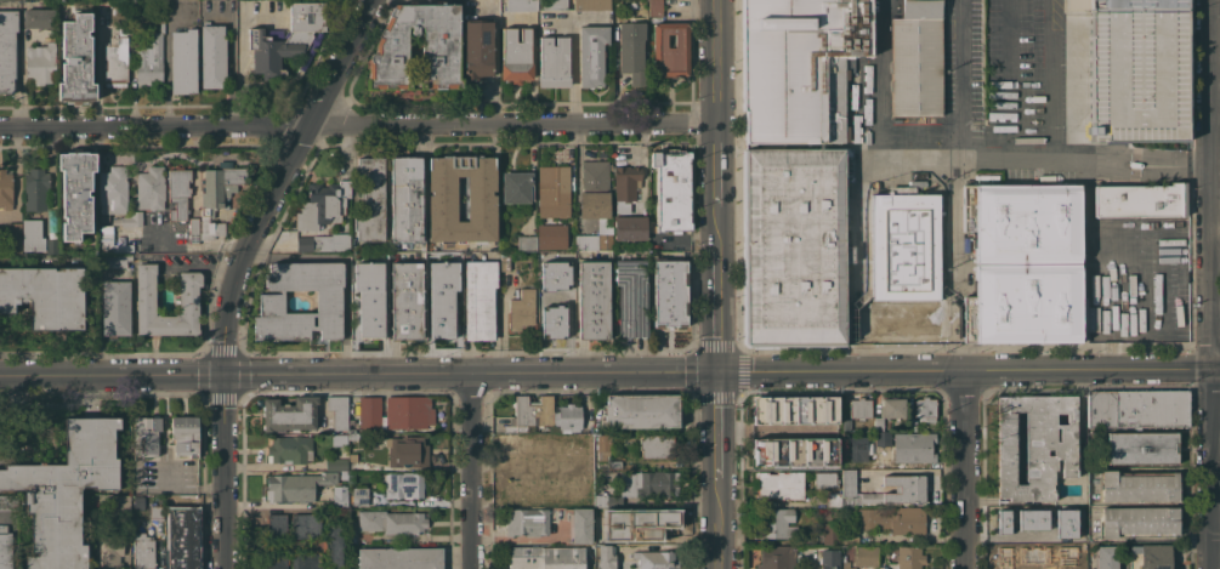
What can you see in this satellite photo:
building: (550, 4)
building: (590, 4)
building: (521, 5)
parking lot: (1125, 5)
building: (656, 7)
building: (919, 8)
building: (102, 11)
building: (38, 18)
building: (855, 28)
building: (286, 39)
building: (439, 47)
building: (6, 49)
building: (478, 49)
building: (670, 50)
building: (634, 53)
building: (212, 55)
building: (515, 55)
building: (591, 55)
building: (115, 58)
building: (149, 59)
building: (75, 61)
building: (183, 61)
building: (554, 61)
building: (40, 63)
road: (708, 63)
road: (166, 64)
building: (915, 66)
building: (787, 68)
building: (1135, 69)
parking garage: (1135, 69)
parking lot: (1135, 74)
road: (881, 80)
road: (961, 80)
road: (1004, 80)
road: (1045, 80)
building: (835, 97)
road: (353, 127)
road: (1106, 155)
road: (1170, 157)
road: (971, 161)
building: (1134, 164)
road: (709, 167)
road: (1111, 170)
road: (1176, 173)
building: (625, 182)
building: (516, 187)
building: (6, 188)
building: (149, 188)
building: (35, 189)
building: (671, 189)
building: (112, 190)
building: (594, 190)
building: (178, 192)
building: (75, 193)
building: (554, 193)
building: (216, 197)
building: (461, 198)
building: (370, 199)
building: (1139, 199)
building: (405, 200)
building: (322, 205)
road: (1085, 206)
building: (129, 220)
building: (1022, 222)
building: (630, 227)
road: (710, 229)
building: (193, 231)
building: (12, 235)
building: (32, 235)
building: (551, 237)
building: (603, 240)
building: (323, 243)
building: (526, 243)
building: (794, 244)
building: (51, 245)
building: (110, 249)
road: (857, 251)
road: (948, 251)
building: (555, 260)
building: (504, 261)
building: (903, 261)
building: (354, 263)
road: (204, 268)
road: (245, 271)
road: (1214, 284)
building: (669, 294)
building: (45, 295)
building: (631, 297)
building: (478, 298)
building: (592, 298)
building: (144, 300)
building: (405, 300)
building: (271, 302)
building: (1027, 305)
building: (115, 307)
building: (371, 307)
building: (521, 311)
road: (711, 311)
building: (554, 313)
building: (447, 315)
road: (948, 355)
road: (857, 357)
traffic signals: (713, 371)
road: (965, 371)
road: (356, 374)
traffic signals: (226, 376)
building: (859, 408)
building: (925, 408)
building: (1137, 408)
building: (640, 410)
building: (793, 410)
building: (337, 411)
building: (408, 411)
building: (889, 411)
building: (290, 412)
building: (369, 412)
building: (529, 414)
building: (569, 417)
road: (713, 425)
building: (846, 425)
building: (910, 425)
building: (185, 434)
building: (146, 436)
building: (354, 436)
building: (883, 438)
building: (339, 439)
building: (658, 445)
building: (1035, 445)
building: (603, 446)
building: (859, 448)
building: (913, 448)
building: (1141, 448)
building: (289, 449)
building: (533, 449)
building: (407, 451)
building: (793, 453)
building: (567, 462)
building: (335, 463)
building: (614, 463)
building: (629, 466)
road: (475, 471)
road: (966, 471)
building: (825, 480)
building: (648, 483)
building: (847, 483)
building: (402, 484)
building: (535, 484)
building: (778, 485)
building: (1137, 485)
building: (296, 487)
building: (898, 490)
building: (64, 491)
building: (340, 496)
building: (358, 496)
building: (566, 497)
building: (603, 497)
building: (833, 499)
building: (180, 501)
building: (8, 502)
building: (121, 502)
building: (137, 502)
building: (155, 512)
building: (611, 512)
building: (892, 519)
building: (1022, 520)
building: (527, 522)
building: (1001, 522)
building: (1137, 522)
building: (395, 523)
building: (773, 523)
road: (713, 524)
building: (305, 525)
building: (580, 525)
building: (276, 527)
building: (656, 527)
building: (830, 533)
building: (1063, 535)
building: (849, 536)
road: (1218, 541)
building: (333, 545)
building: (5, 547)
building: (180, 548)
building: (108, 550)
building: (142, 551)
building: (1074, 554)
building: (866, 556)
building: (546, 557)
building: (606, 557)
building: (776, 557)
building: (909, 557)
building: (1027, 557)
building: (1106, 557)
building: (1150, 557)
building: (399, 558)
building: (829, 558)
building: (654, 559)
building: (277, 561)
building: (305, 561)
building: (845, 563)

